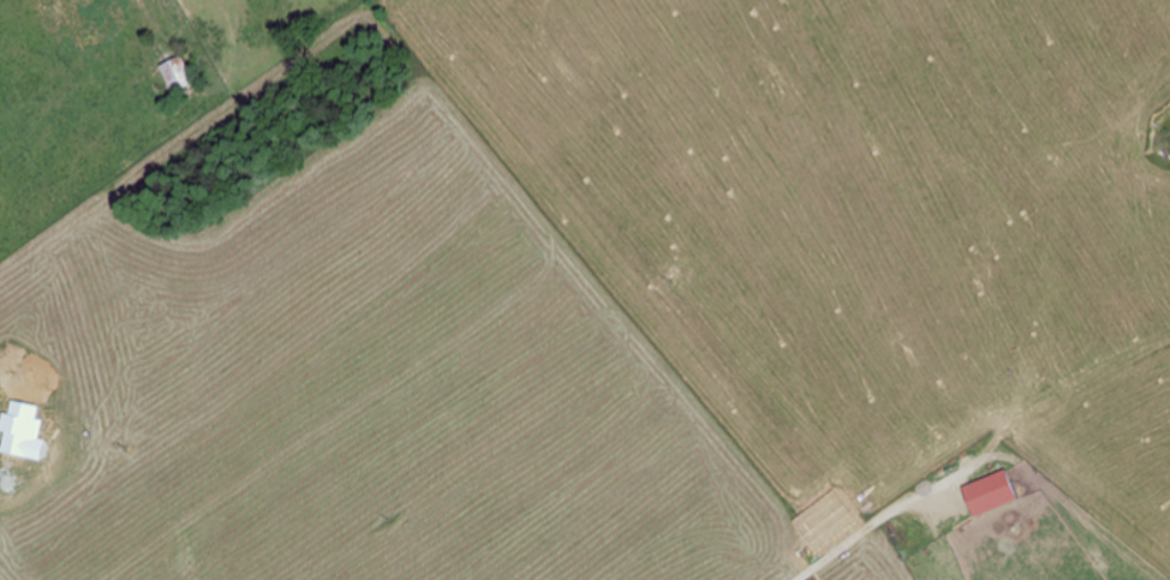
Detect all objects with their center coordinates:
building: (181, 76)
building: (993, 492)

